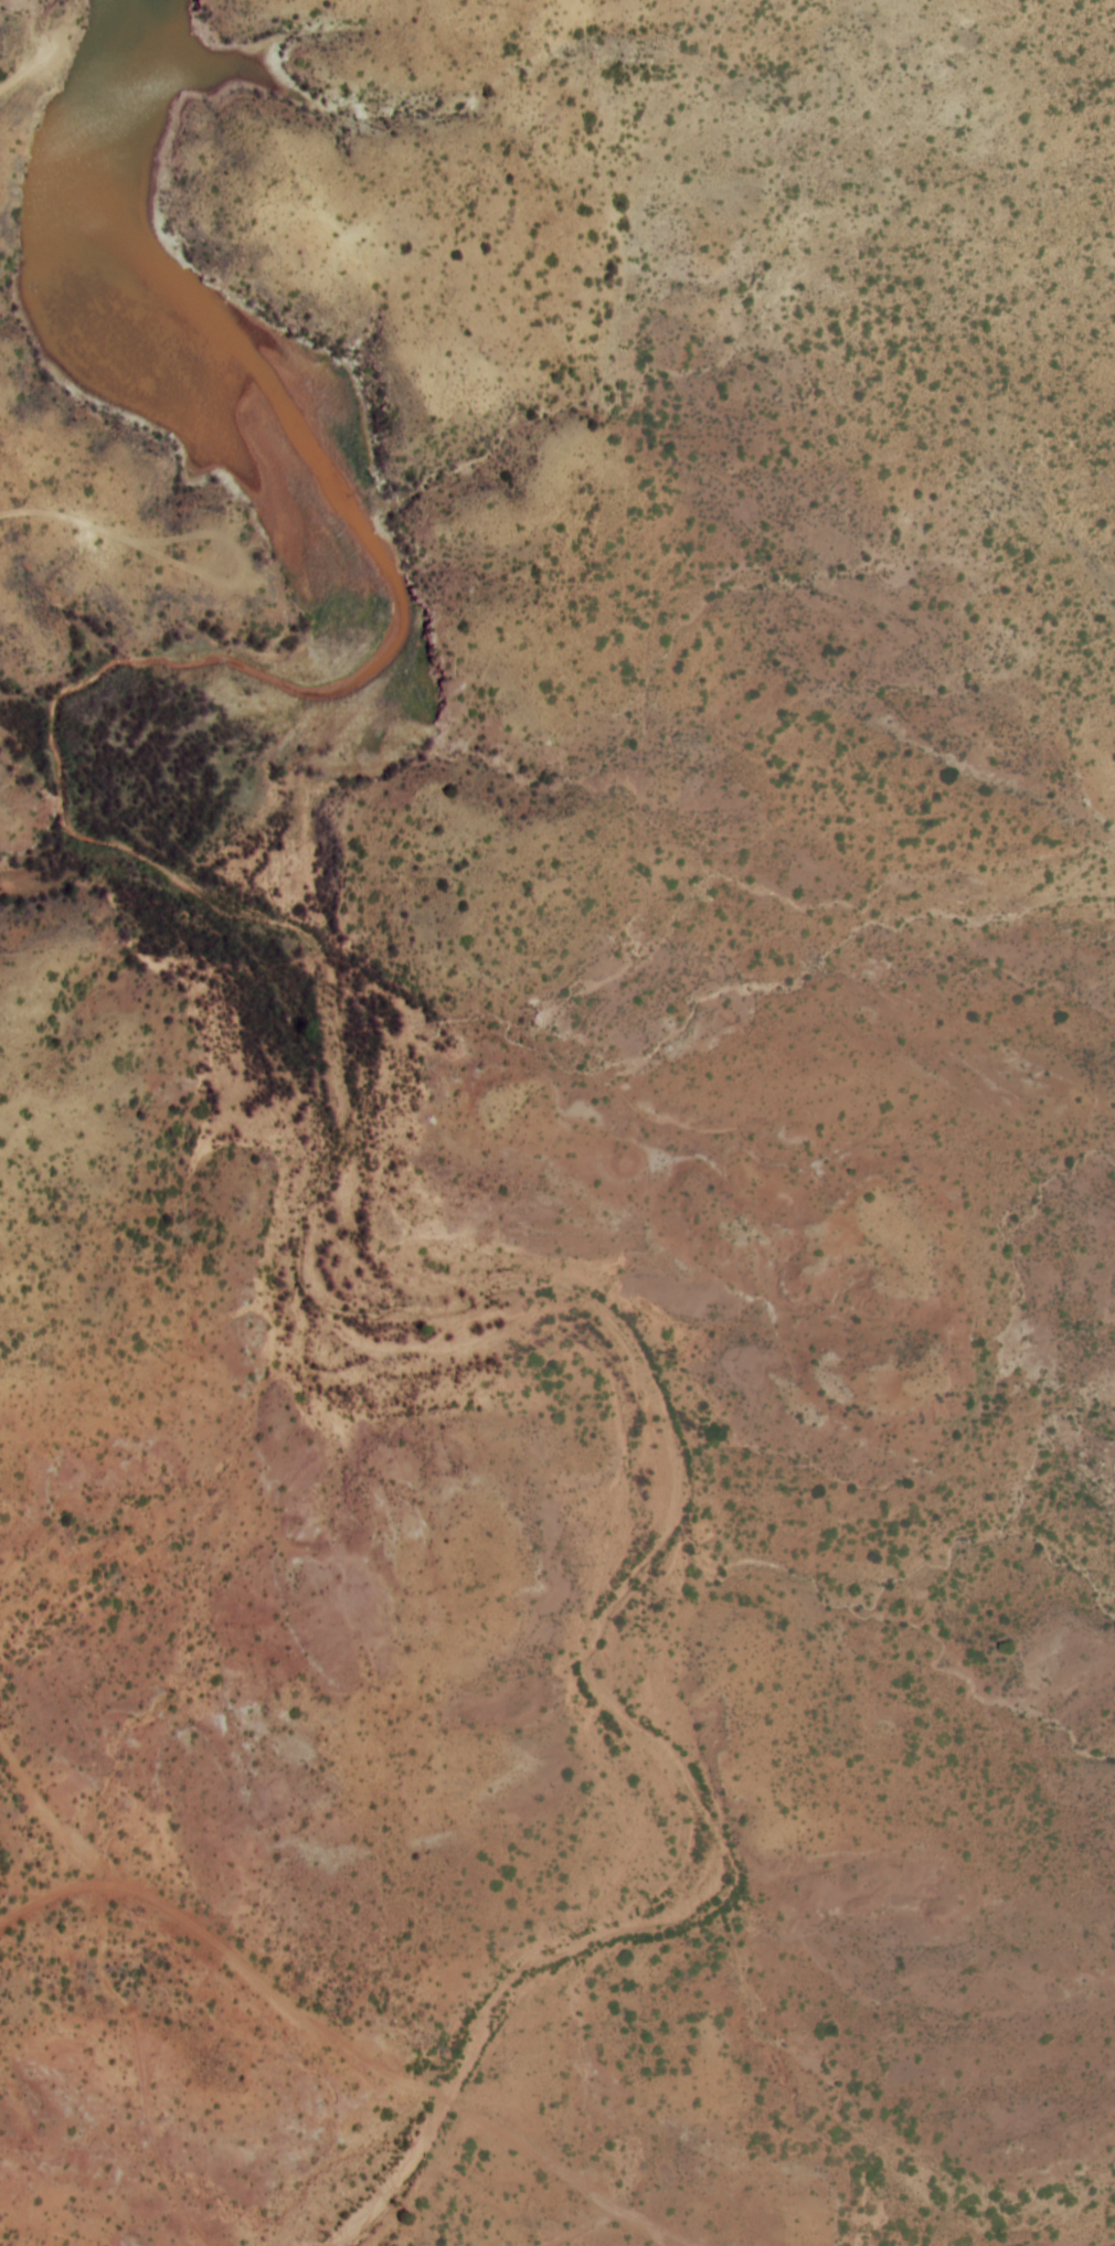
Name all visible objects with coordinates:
road: (293, 2047)

